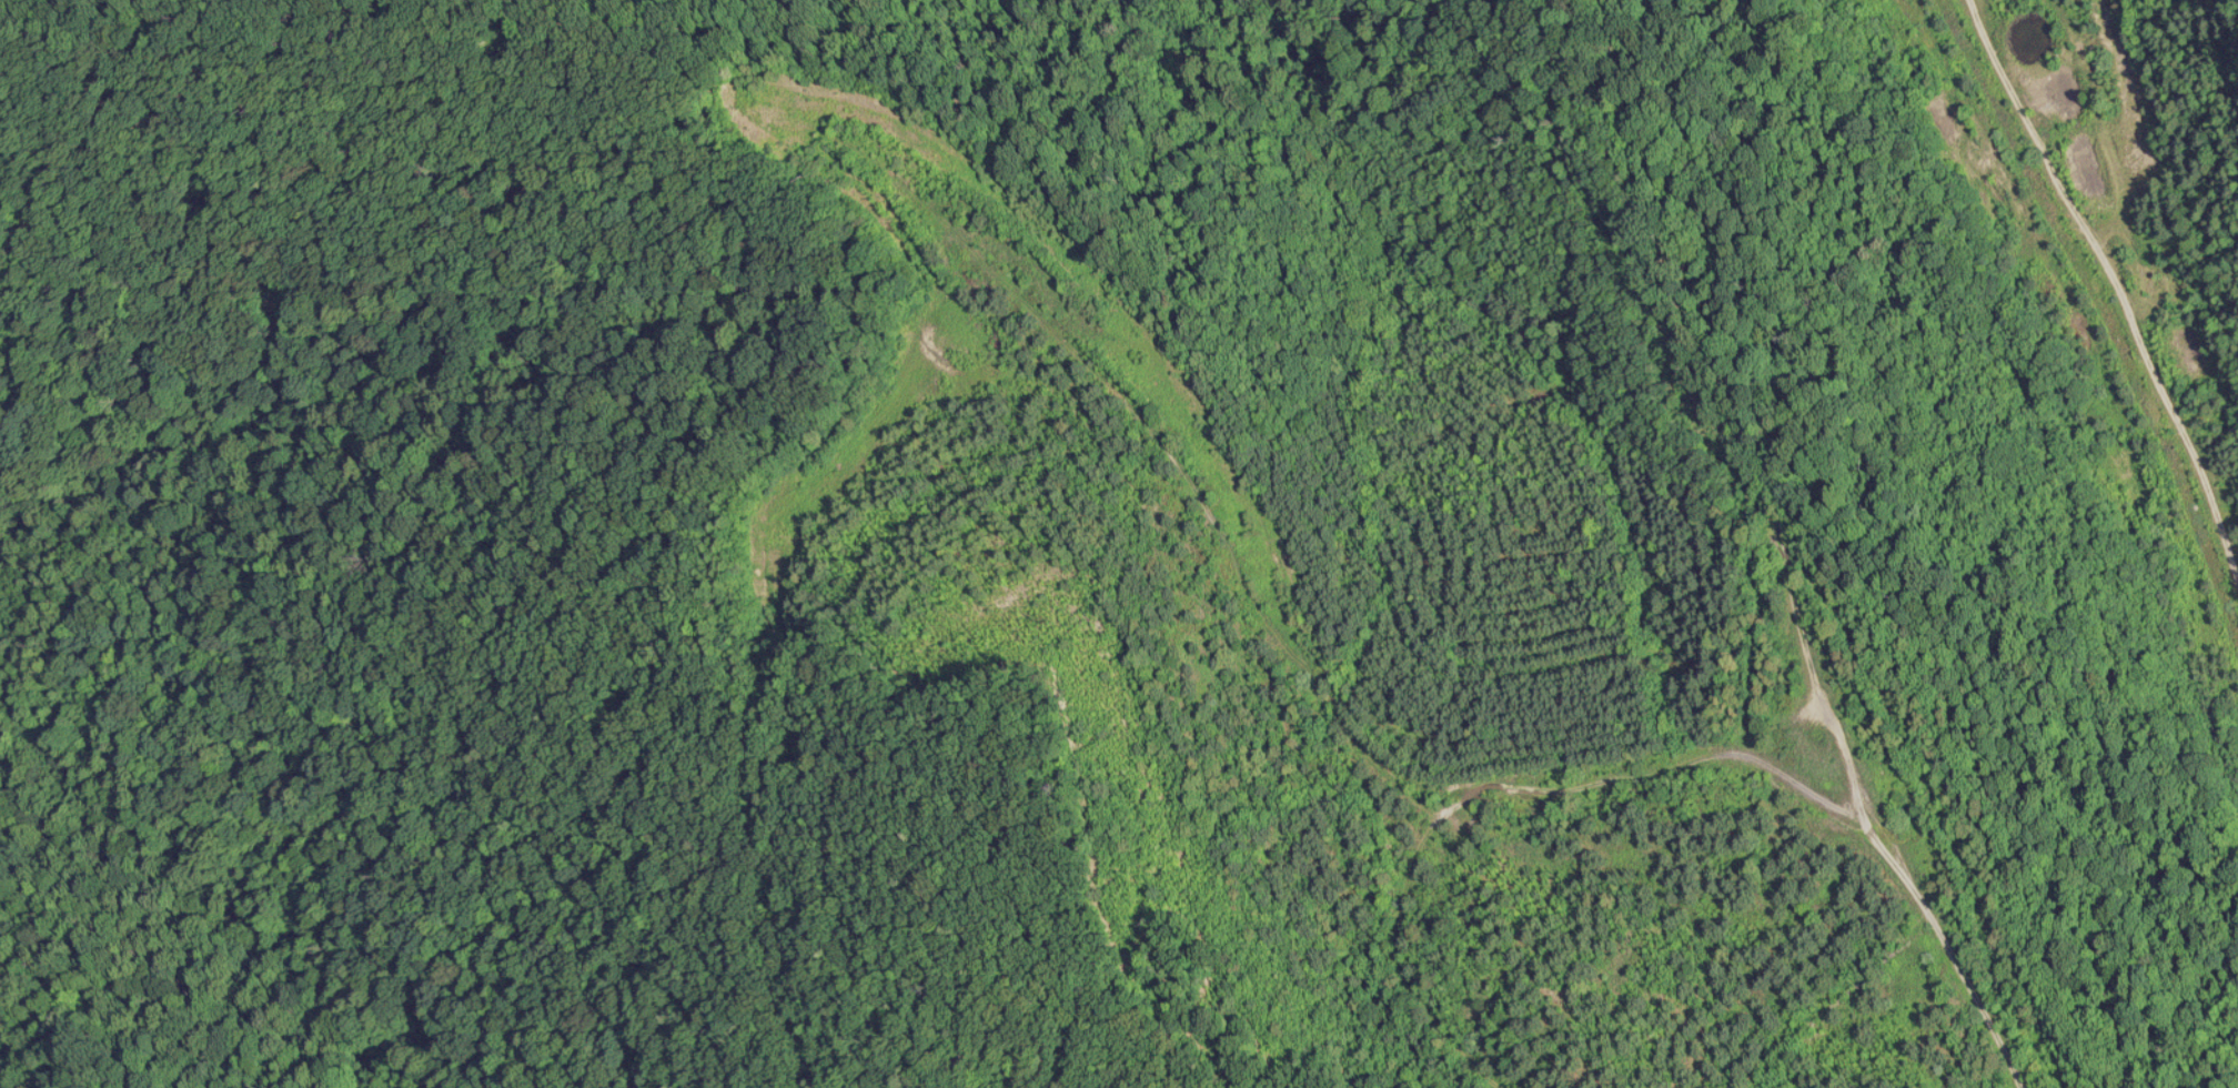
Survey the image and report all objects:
quarry: (1283, 621)

